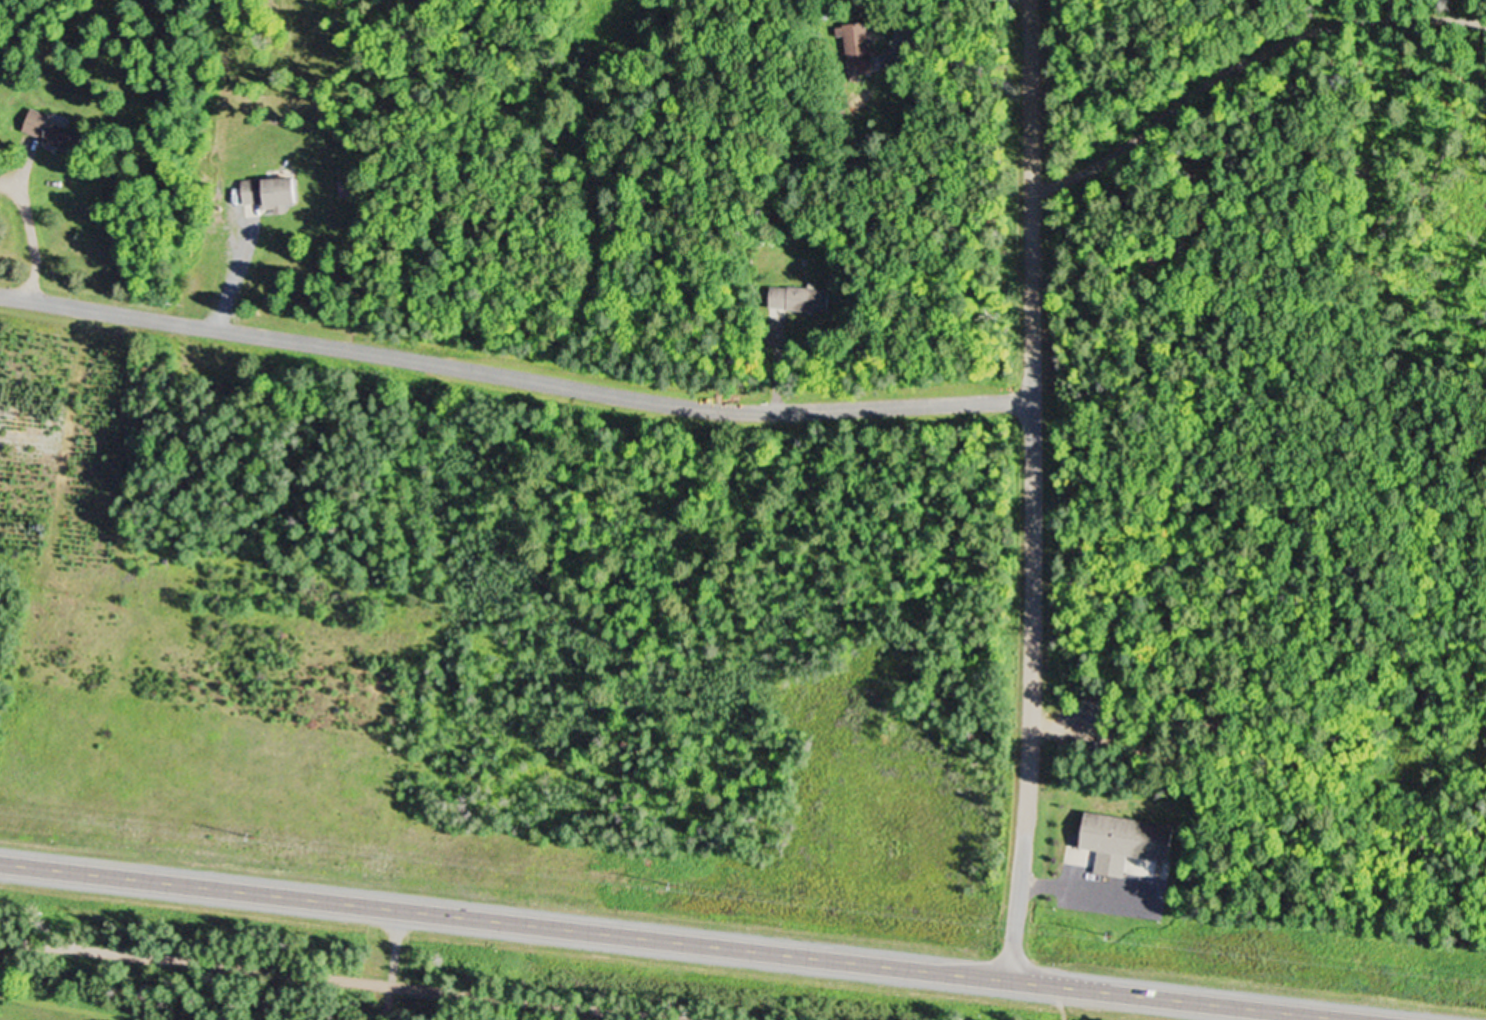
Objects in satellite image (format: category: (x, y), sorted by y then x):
building: (858, 46)
road: (1239, 62)
building: (50, 126)
building: (272, 188)
road: (28, 240)
road: (229, 281)
building: (802, 296)
road: (512, 375)
road: (775, 382)
road: (1028, 489)
power tower: (249, 831)
building: (1121, 841)
power tower: (671, 879)
road: (1048, 884)
power tower: (1110, 932)
road: (688, 941)
road: (391, 964)
road: (343, 980)

